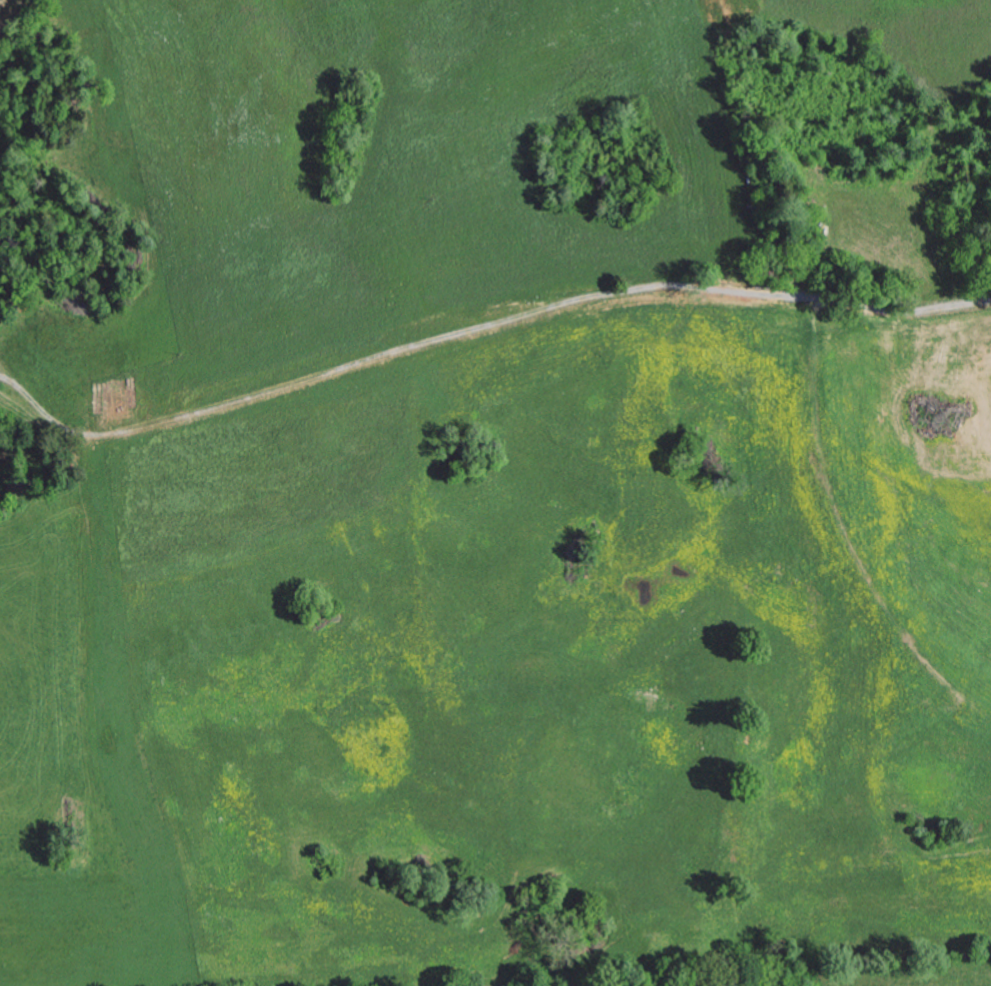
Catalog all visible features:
road: (727, 102)
road: (461, 193)
road: (491, 323)

